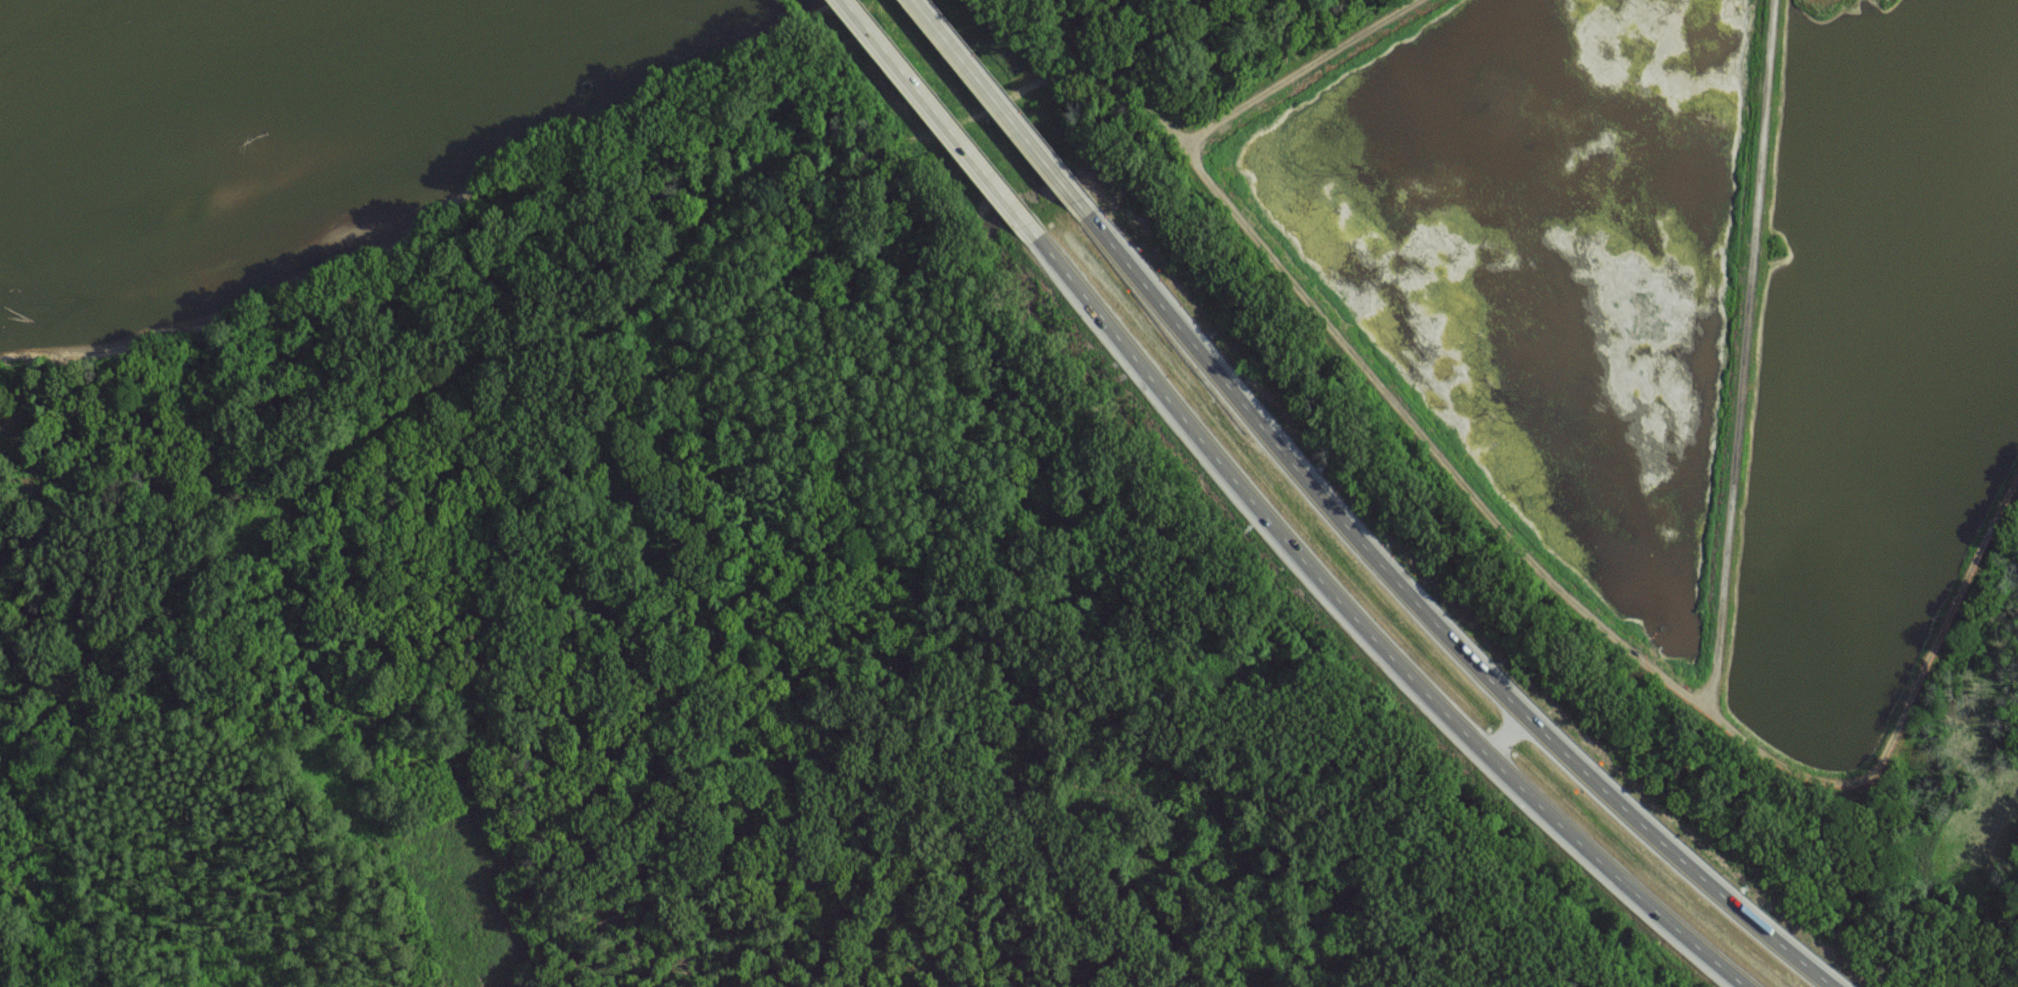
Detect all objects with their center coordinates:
road: (1304, 70)
river: (204, 94)
road: (1006, 107)
road: (954, 133)
road: (1246, 403)
road: (1211, 449)
road: (1467, 648)
road: (1427, 692)
road: (1506, 731)
road: (1583, 759)
road: (1539, 803)
road: (1738, 903)
road: (1670, 922)

